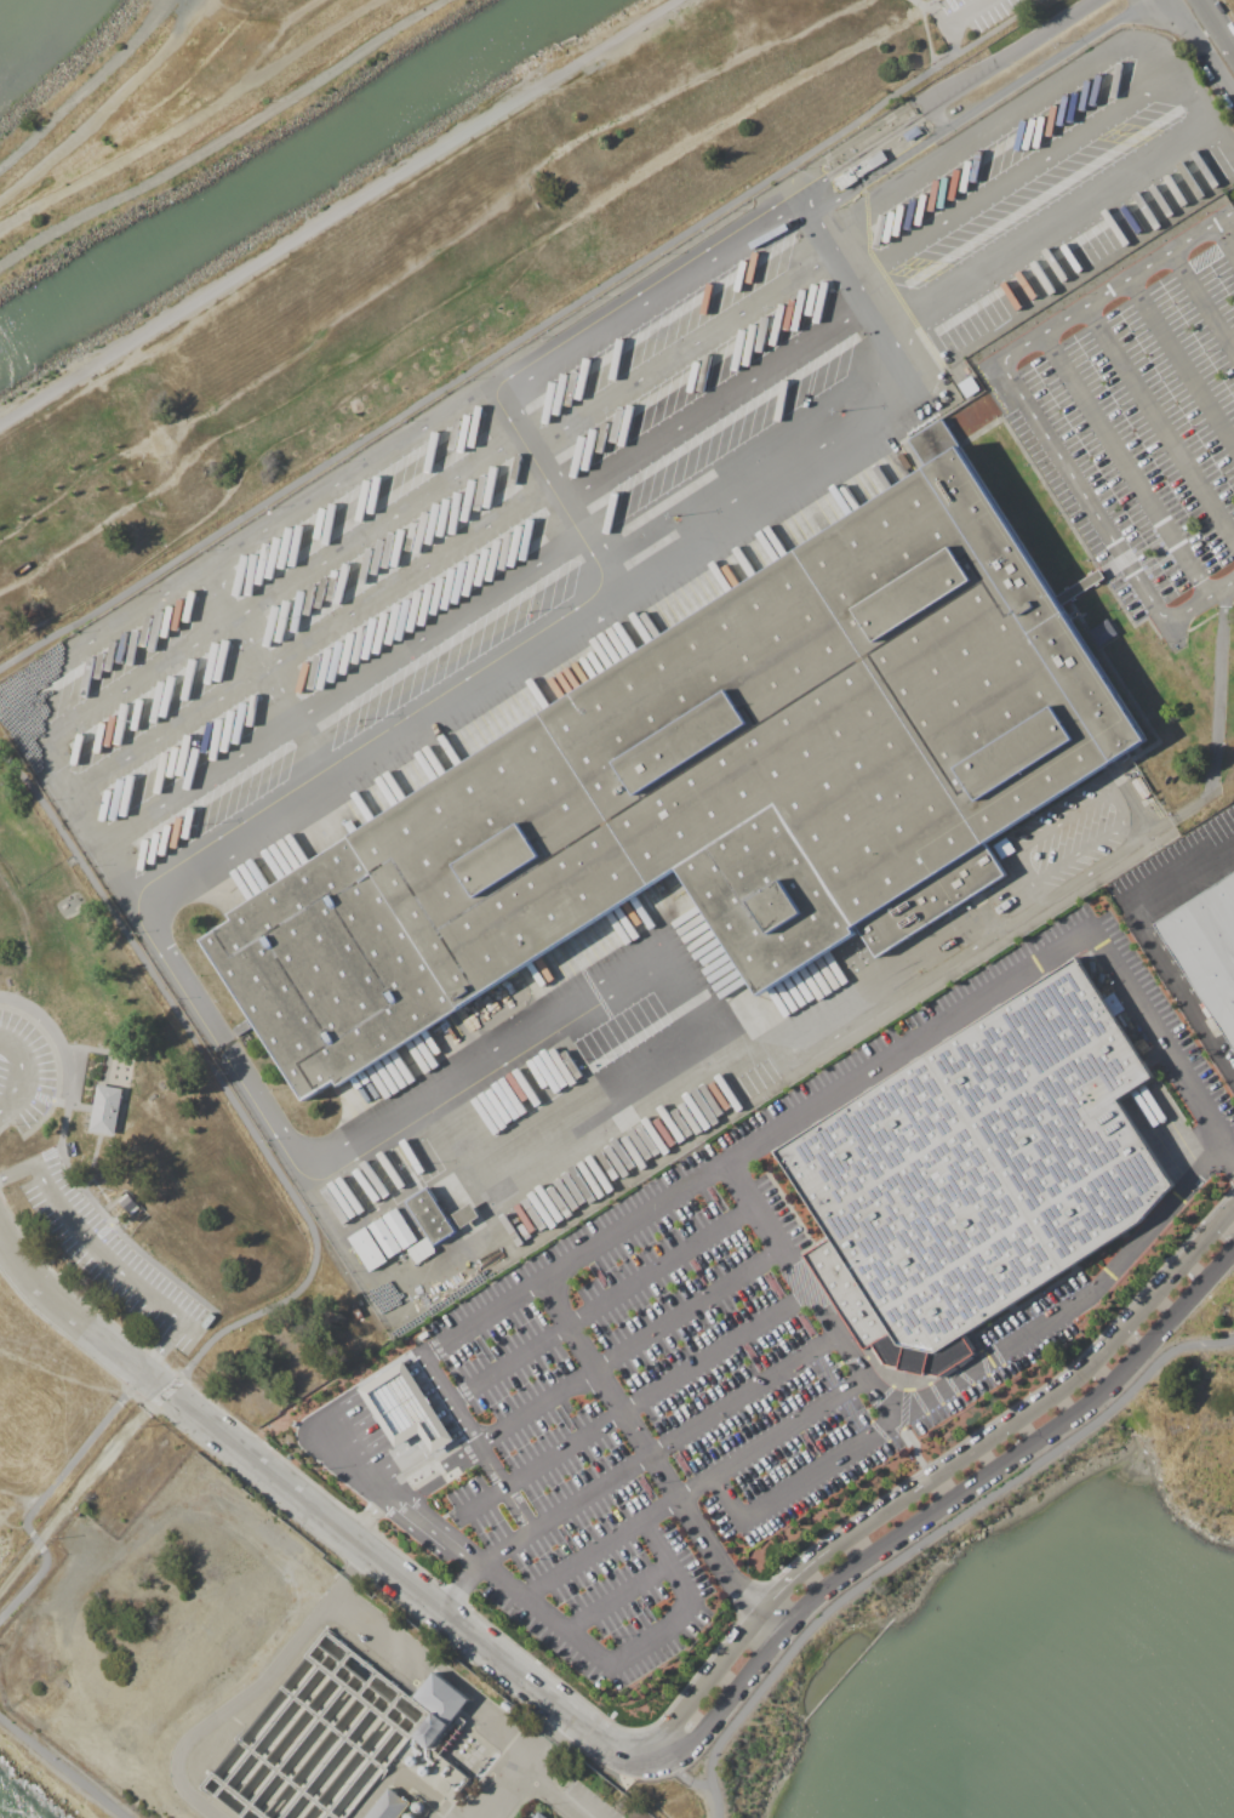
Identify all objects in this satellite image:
road: (971, 8)
road: (930, 11)
road: (278, 22)
road: (1216, 28)
road: (1198, 55)
road: (88, 82)
road: (942, 95)
park: (178, 108)
road: (976, 108)
road: (192, 116)
road: (1000, 118)
building: (913, 133)
road: (228, 138)
building: (876, 159)
building: (852, 175)
road: (1015, 176)
road: (1070, 211)
road: (345, 215)
road: (1226, 234)
road: (428, 261)
park: (432, 277)
road: (1201, 304)
road: (473, 317)
road: (522, 336)
road: (681, 352)
road: (1181, 364)
road: (496, 380)
building: (969, 386)
road: (713, 403)
road: (1029, 409)
road: (1159, 423)
building: (933, 441)
road: (1127, 466)
road: (549, 484)
road: (278, 589)
building: (1103, 632)
road: (308, 639)
road: (522, 639)
road: (267, 665)
road: (337, 688)
building: (715, 786)
building: (1142, 787)
road: (67, 794)
road: (1133, 810)
building: (1005, 848)
road: (1084, 849)
road: (25, 923)
road: (1152, 944)
building: (1207, 948)
road: (550, 1013)
parking lot: (0, 1060)
road: (22, 1071)
building: (107, 1110)
road: (767, 1138)
road: (555, 1140)
park: (147, 1153)
building: (978, 1173)
building: (128, 1204)
building: (467, 1215)
building: (432, 1216)
building: (399, 1229)
road: (312, 1232)
building: (384, 1238)
parking lot: (105, 1241)
building: (369, 1249)
building: (422, 1250)
road: (107, 1259)
road: (602, 1305)
building: (356, 1311)
road: (75, 1313)
road: (629, 1351)
parking lot: (727, 1355)
road: (418, 1363)
road: (387, 1384)
road: (432, 1385)
road: (947, 1389)
road: (656, 1391)
road: (1049, 1395)
road: (400, 1406)
road: (445, 1406)
building: (404, 1408)
gas station: (404, 1408)
road: (201, 1417)
park: (1141, 1419)
park: (61, 1421)
road: (457, 1425)
road: (413, 1426)
road: (365, 1427)
road: (438, 1437)
road: (356, 1441)
road: (378, 1449)
road: (657, 1453)
road: (401, 1459)
road: (655, 1464)
road: (793, 1487)
road: (23, 1493)
road: (693, 1493)
road: (950, 1499)
road: (372, 1516)
road: (15, 1525)
road: (435, 1532)
road: (930, 1541)
road: (400, 1574)
road: (793, 1579)
road: (462, 1589)
road: (615, 1600)
road: (618, 1659)
wastewater plant: (257, 1670)
road: (708, 1680)
road: (256, 1688)
building: (441, 1698)
building: (432, 1731)
road: (541, 1738)
road: (612, 1744)
road: (62, 1767)
park: (52, 1776)
road: (686, 1776)
park: (739, 1778)
road: (497, 1791)
road: (547, 1793)
building: (389, 1806)
building: (539, 1816)

